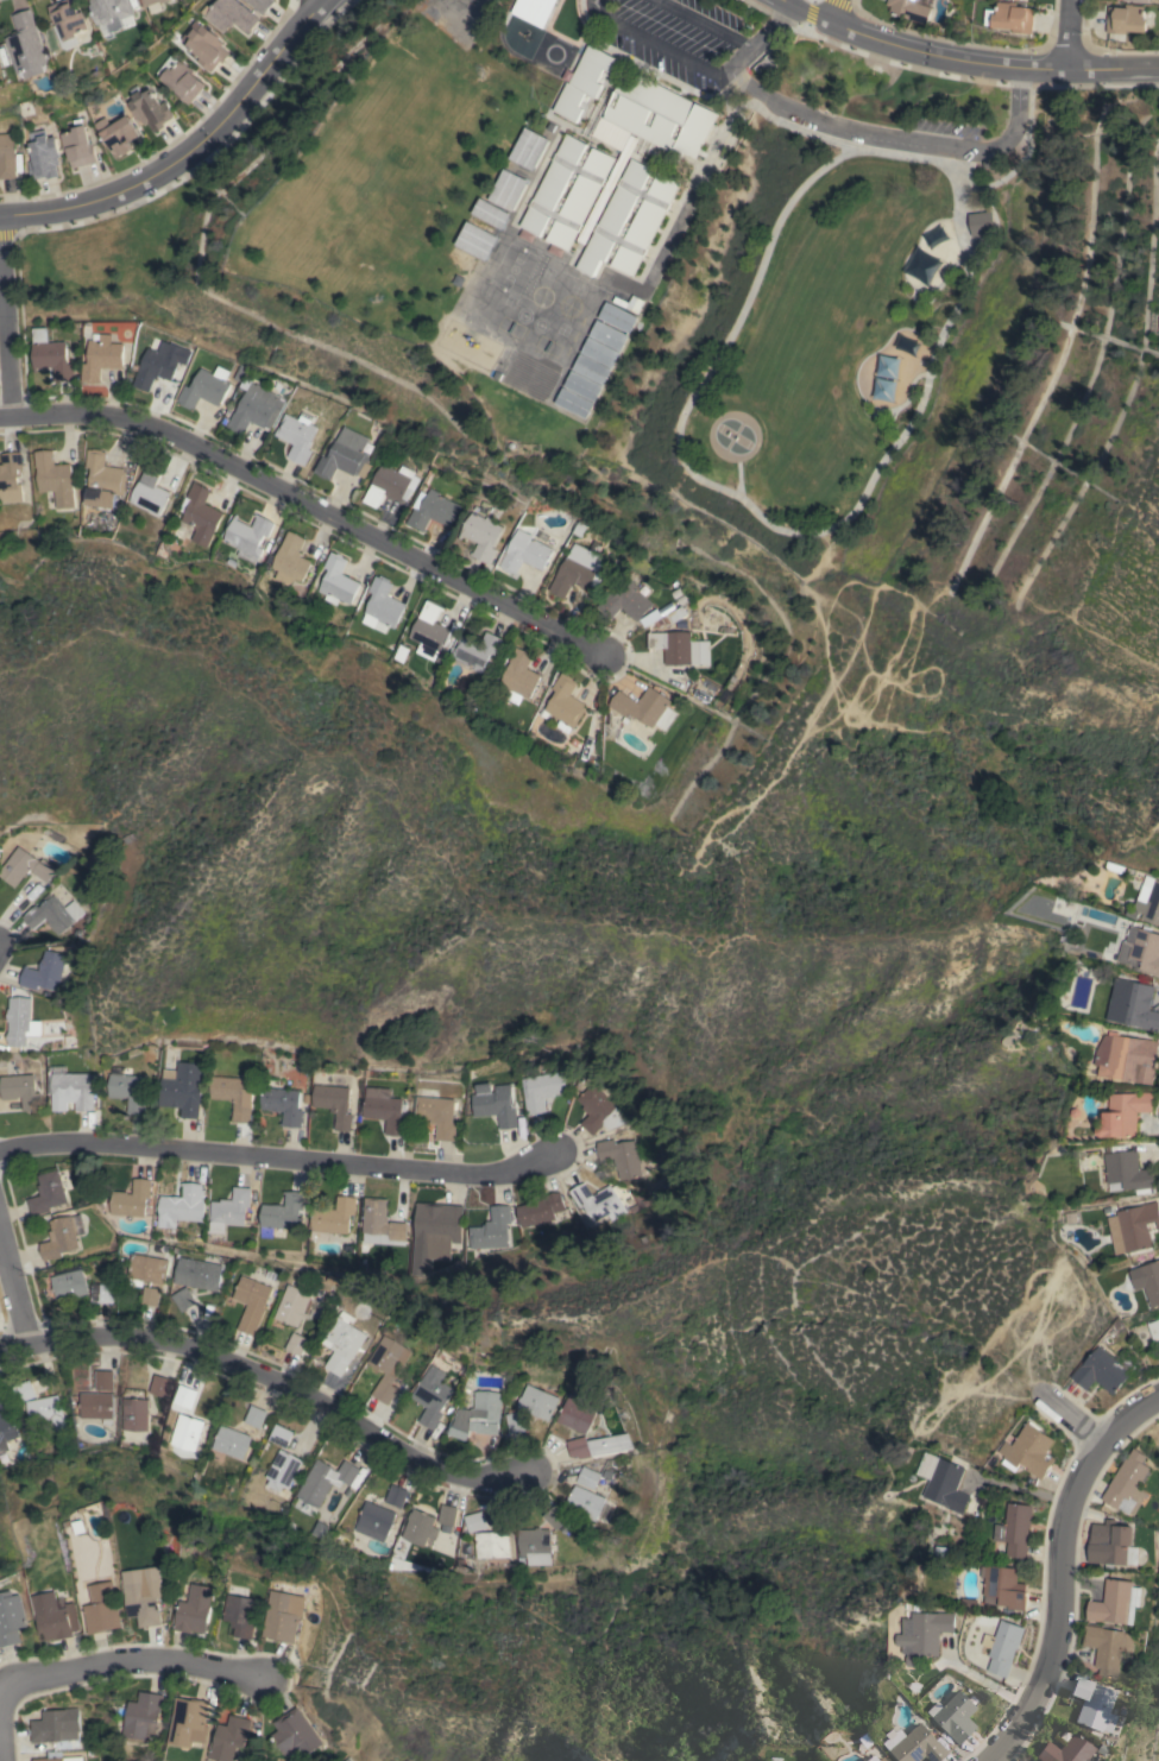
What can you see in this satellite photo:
road: (320, 0)
building: (1139, 0)
building: (153, 1)
building: (260, 5)
building: (909, 10)
road: (830, 11)
building: (112, 13)
building: (231, 14)
building: (1012, 17)
building: (68, 18)
building: (1125, 19)
road: (1065, 33)
road: (726, 37)
road: (758, 44)
building: (29, 46)
building: (207, 48)
road: (668, 52)
road: (965, 61)
building: (182, 81)
building: (586, 82)
building: (149, 108)
road: (787, 111)
building: (655, 118)
parking lot: (945, 128)
building: (118, 134)
building: (78, 146)
building: (529, 149)
road: (969, 150)
road: (188, 151)
building: (43, 154)
building: (7, 156)
building: (607, 188)
building: (508, 190)
building: (584, 191)
building: (491, 213)
building: (649, 216)
building: (981, 223)
building: (477, 240)
building: (629, 303)
building: (617, 317)
building: (609, 335)
road: (5, 348)
park: (842, 349)
building: (600, 352)
building: (50, 355)
building: (101, 358)
building: (157, 366)
building: (591, 370)
building: (529, 377)
building: (582, 386)
building: (206, 387)
building: (574, 403)
building: (256, 409)
building: (297, 435)
building: (345, 455)
building: (11, 476)
building: (55, 479)
building: (102, 480)
building: (391, 485)
building: (149, 491)
road: (307, 505)
building: (432, 510)
building: (199, 513)
road: (764, 518)
building: (480, 535)
building: (247, 536)
building: (529, 550)
building: (289, 560)
building: (577, 572)
building: (336, 581)
building: (625, 599)
building: (380, 604)
building: (427, 631)
building: (675, 648)
building: (473, 650)
building: (516, 677)
building: (562, 703)
building: (644, 707)
building: (24, 867)
building: (1149, 898)
building: (52, 914)
building: (1142, 948)
building: (44, 972)
building: (1132, 1004)
building: (18, 1016)
building: (1126, 1058)
building: (183, 1086)
building: (71, 1090)
building: (541, 1090)
building: (21, 1091)
building: (128, 1091)
building: (233, 1096)
building: (282, 1102)
building: (334, 1104)
building: (493, 1104)
building: (384, 1109)
building: (596, 1111)
building: (1122, 1113)
building: (437, 1115)
building: (619, 1156)
road: (278, 1159)
building: (1127, 1173)
building: (48, 1193)
building: (131, 1199)
building: (596, 1201)
building: (183, 1204)
building: (229, 1210)
building: (540, 1210)
building: (282, 1214)
building: (334, 1216)
building: (382, 1224)
building: (437, 1226)
building: (1133, 1226)
building: (491, 1229)
building: (62, 1236)
building: (146, 1268)
building: (199, 1274)
building: (1151, 1281)
building: (69, 1282)
road: (13, 1288)
building: (101, 1293)
building: (150, 1295)
building: (184, 1299)
building: (252, 1302)
building: (292, 1307)
building: (1153, 1328)
building: (297, 1344)
building: (344, 1344)
building: (388, 1365)
building: (1101, 1371)
building: (103, 1380)
building: (159, 1386)
building: (24, 1390)
road: (271, 1394)
building: (432, 1395)
building: (185, 1396)
building: (535, 1401)
building: (2, 1406)
building: (95, 1406)
building: (45, 1412)
building: (134, 1414)
building: (573, 1414)
building: (254, 1415)
building: (477, 1415)
building: (514, 1421)
road: (1075, 1424)
building: (5, 1431)
building: (187, 1432)
building: (281, 1435)
building: (231, 1443)
building: (607, 1444)
building: (577, 1447)
building: (1029, 1450)
building: (282, 1470)
building: (586, 1477)
building: (323, 1481)
building: (1128, 1483)
building: (946, 1485)
building: (396, 1496)
building: (582, 1502)
building: (446, 1514)
building: (554, 1517)
building: (373, 1521)
building: (475, 1521)
building: (77, 1525)
building: (420, 1527)
building: (1014, 1529)
building: (490, 1545)
building: (533, 1547)
building: (1113, 1547)
road: (1065, 1571)
building: (1002, 1586)
building: (1115, 1602)
building: (140, 1603)
building: (99, 1607)
building: (194, 1609)
building: (241, 1614)
building: (53, 1616)
building: (281, 1617)
building: (10, 1618)
building: (924, 1634)
building: (1002, 1647)
building: (1107, 1647)
road: (133, 1660)
building: (1095, 1704)
building: (140, 1713)
building: (956, 1716)
building: (187, 1722)
building: (53, 1725)
building: (294, 1734)
building: (229, 1737)
building: (914, 1744)
building: (1067, 1749)
road: (0, 1753)
building: (56, 1757)
building: (875, 1759)
building: (1033, 1760)

